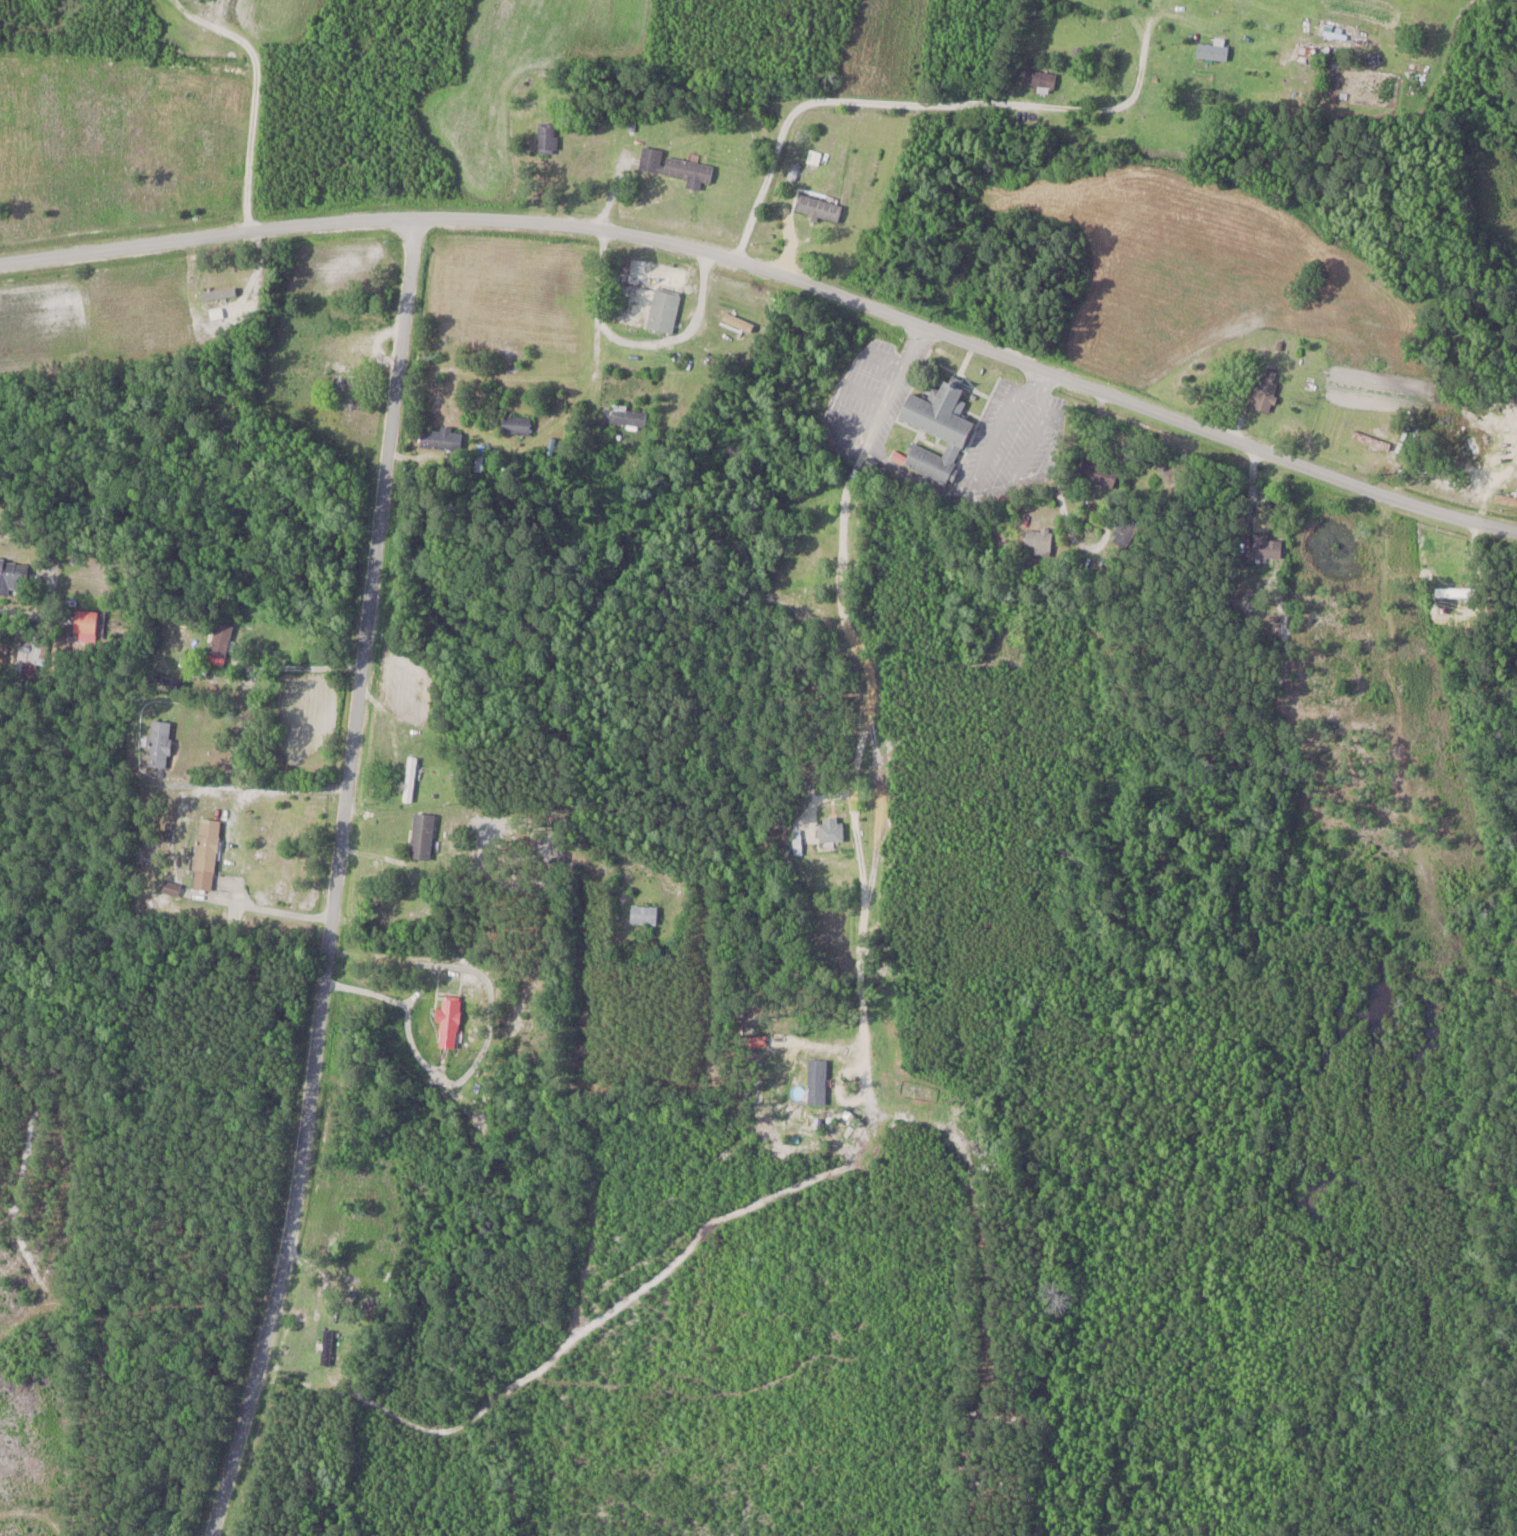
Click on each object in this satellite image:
building: (1213, 51)
building: (1039, 81)
road: (254, 93)
road: (884, 99)
building: (547, 138)
building: (678, 168)
road: (720, 171)
road: (368, 182)
building: (818, 207)
road: (776, 274)
building: (663, 310)
building: (738, 322)
building: (1264, 394)
building: (625, 415)
building: (516, 423)
building: (937, 430)
building: (441, 437)
building: (1371, 440)
road: (873, 441)
building: (1474, 448)
road: (493, 460)
building: (1099, 471)
road: (988, 491)
building: (1128, 532)
building: (1038, 541)
building: (1266, 544)
building: (14, 568)
building: (1455, 590)
building: (1456, 621)
building: (86, 622)
road: (849, 632)
building: (219, 638)
road: (327, 650)
building: (31, 652)
road: (341, 653)
road: (334, 721)
building: (159, 743)
building: (409, 777)
road: (259, 784)
building: (831, 827)
building: (421, 834)
building: (206, 852)
road: (333, 879)
building: (171, 887)
road: (274, 909)
building: (643, 913)
road: (1282, 951)
building: (327, 1347)
road: (317, 1500)

